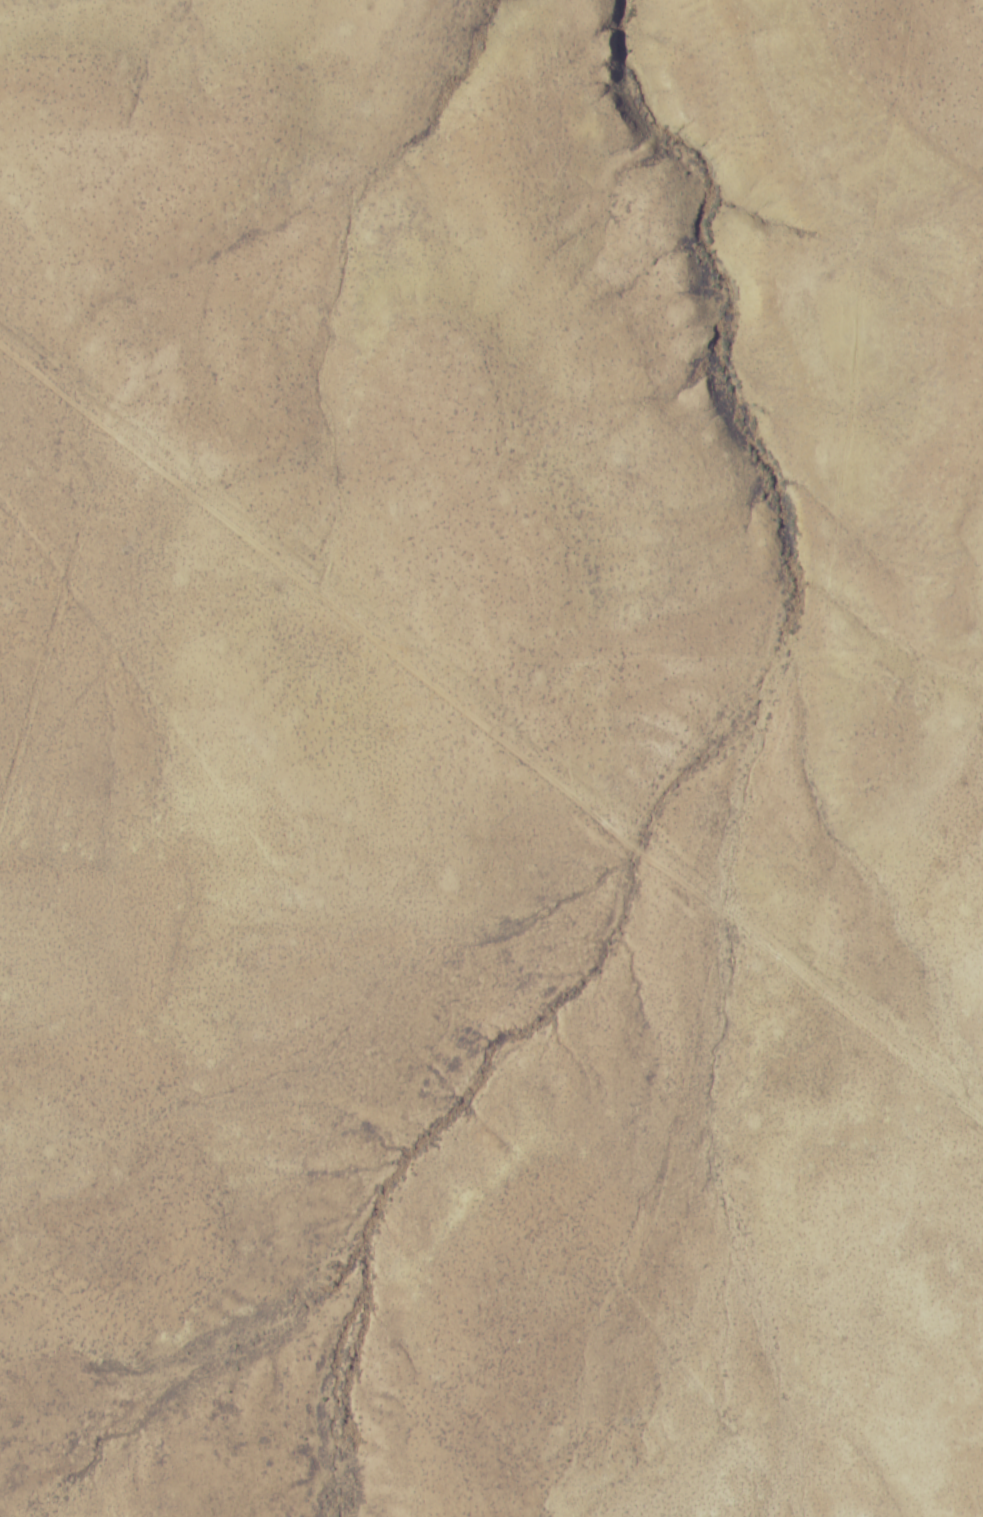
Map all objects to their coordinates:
road: (491, 739)

